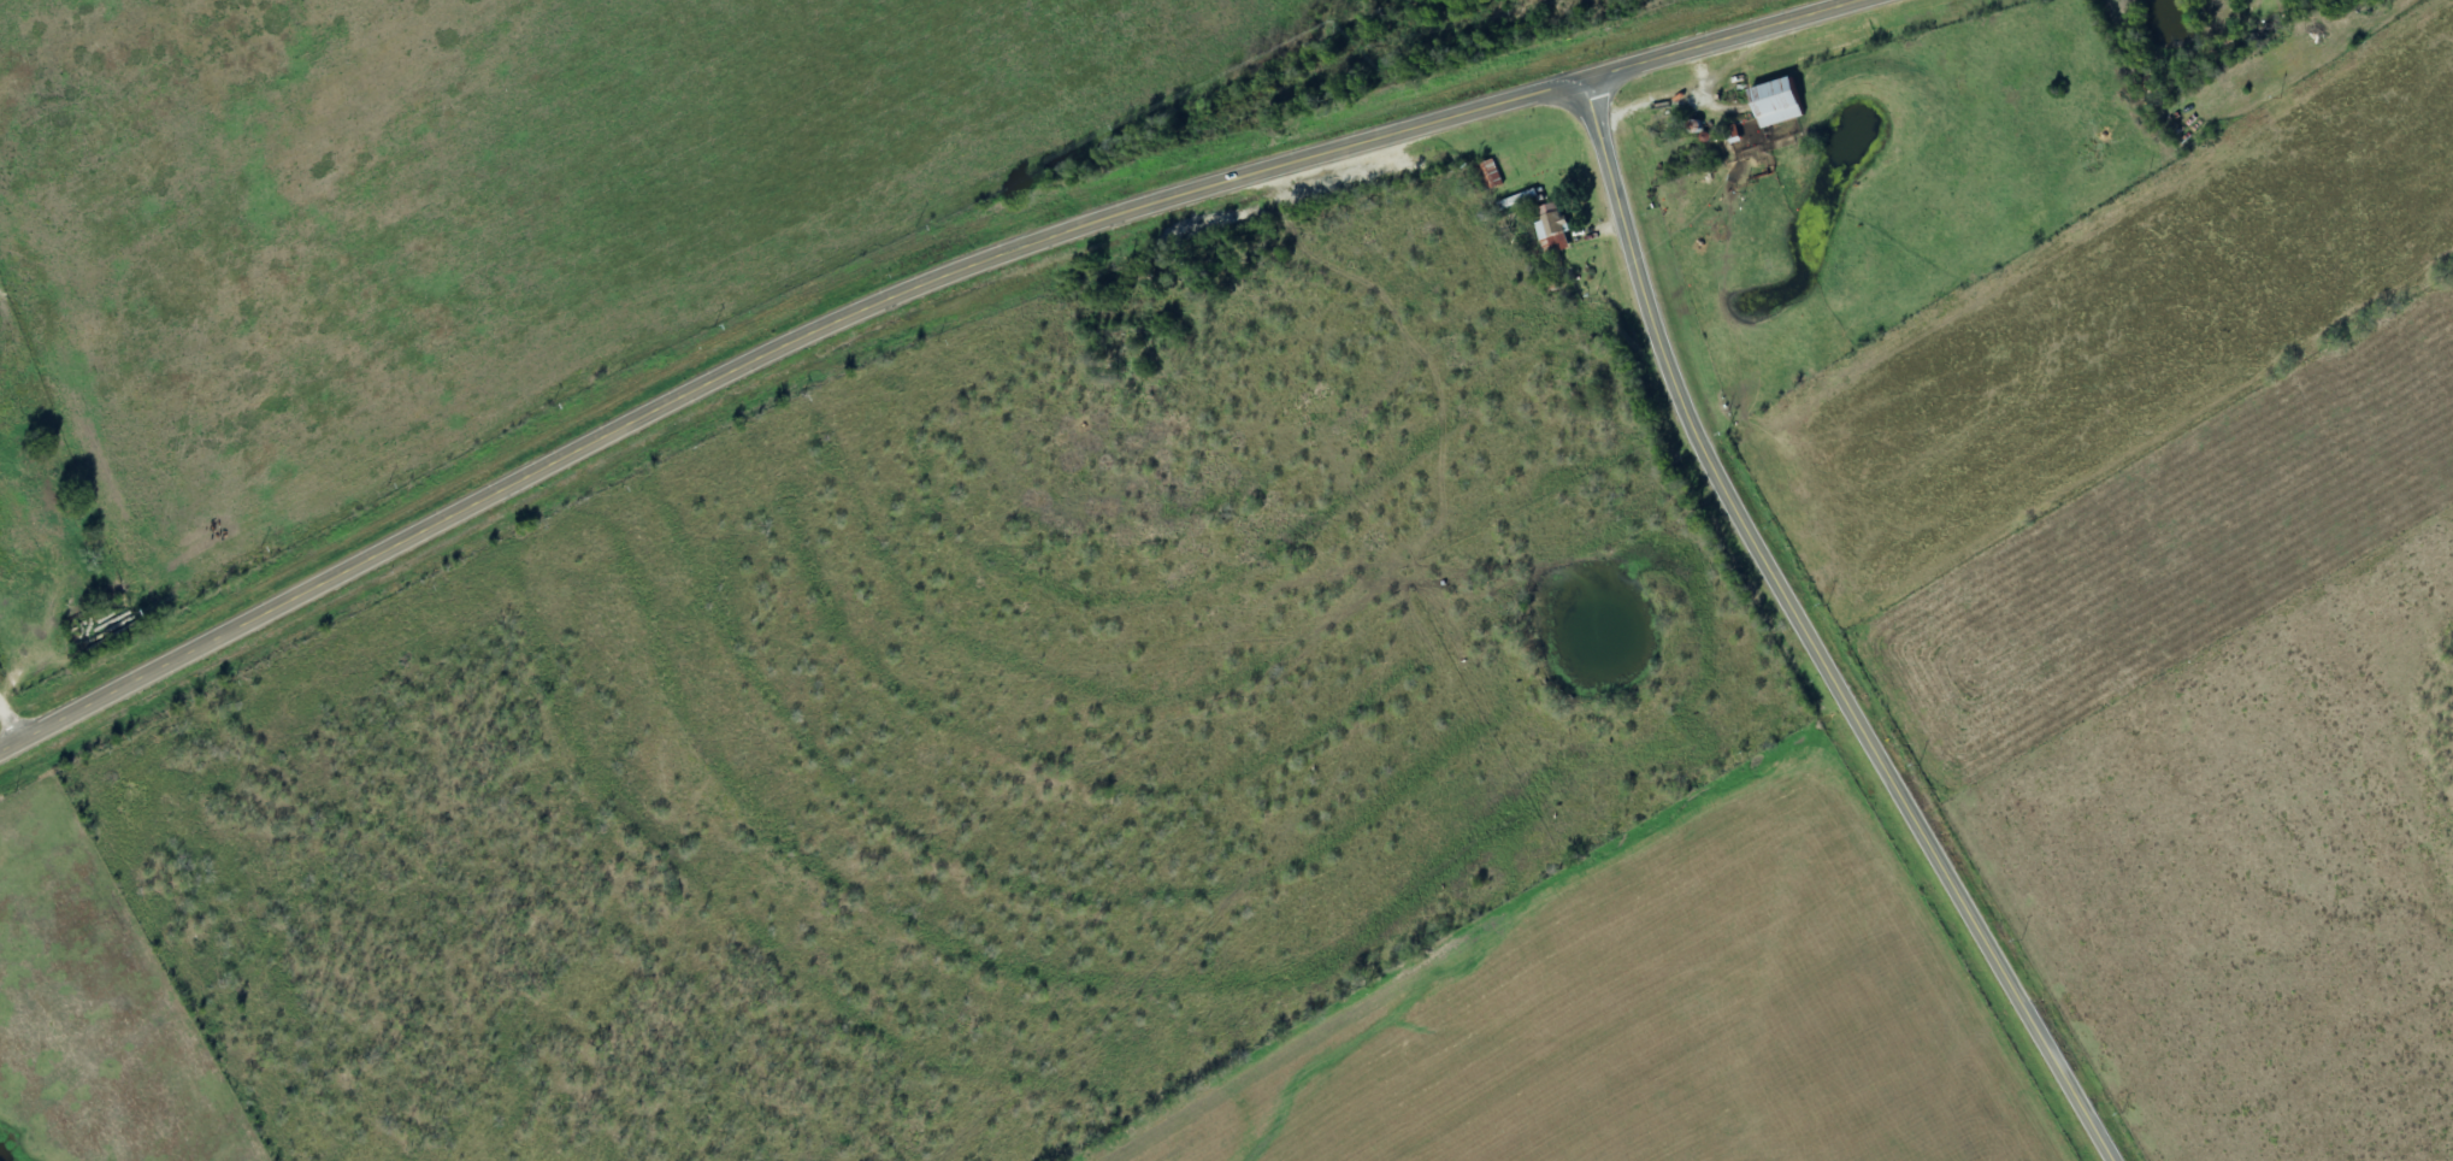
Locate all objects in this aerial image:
road: (1717, 43)
building: (1780, 102)
building: (1492, 175)
road: (763, 363)
road: (1811, 640)
road: (1900, 673)
road: (12, 714)

